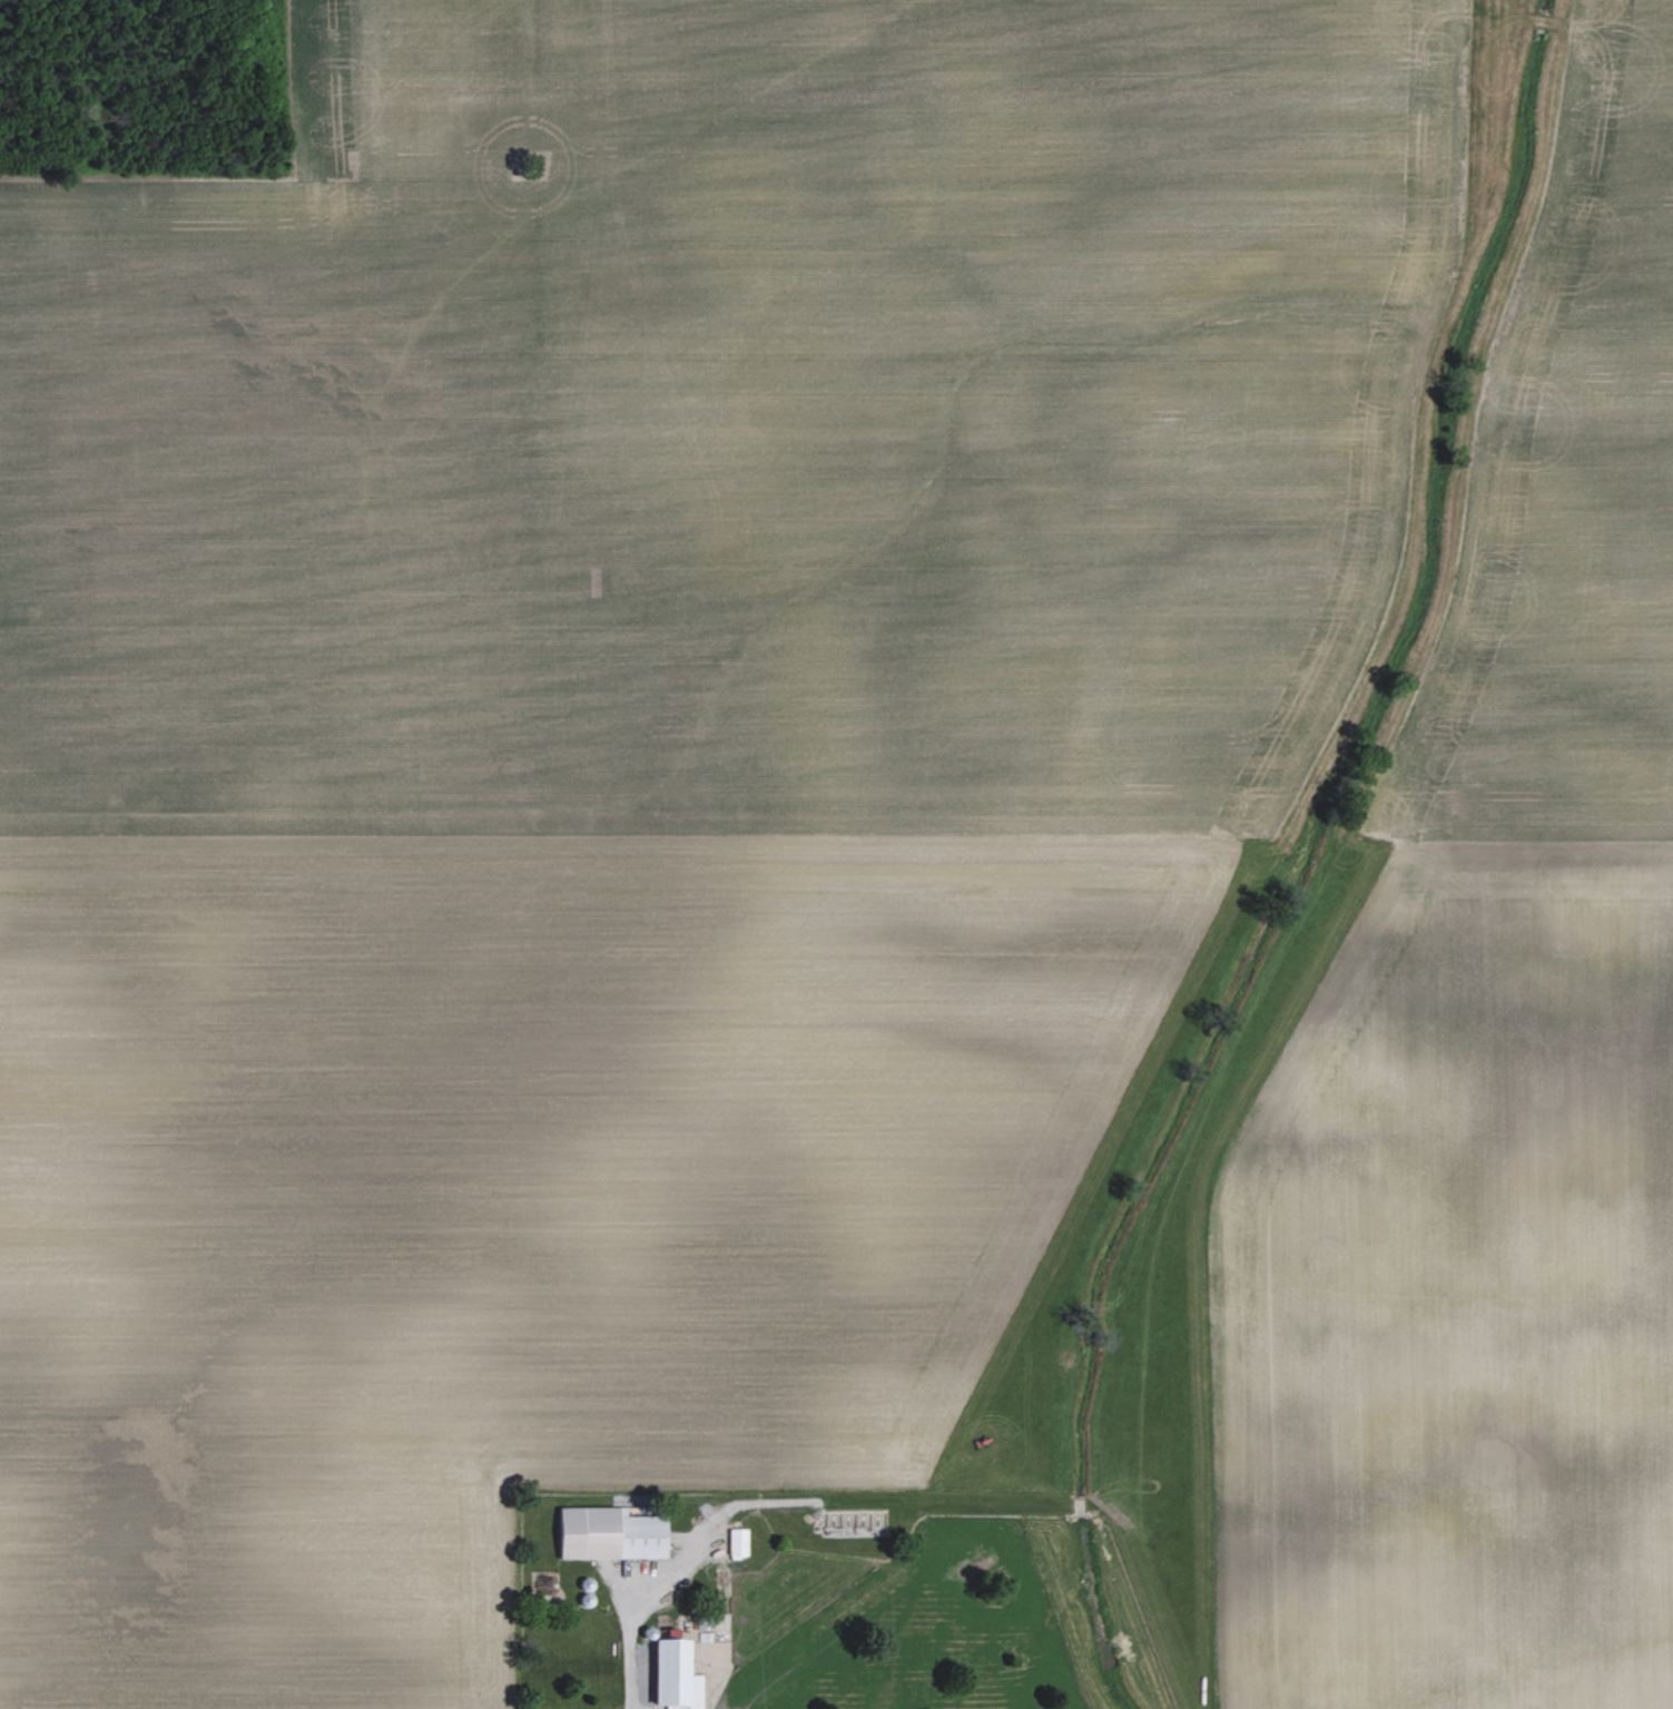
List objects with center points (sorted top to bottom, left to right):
building: (610, 1532)
building: (737, 1541)
road: (639, 1592)
building: (676, 1674)

